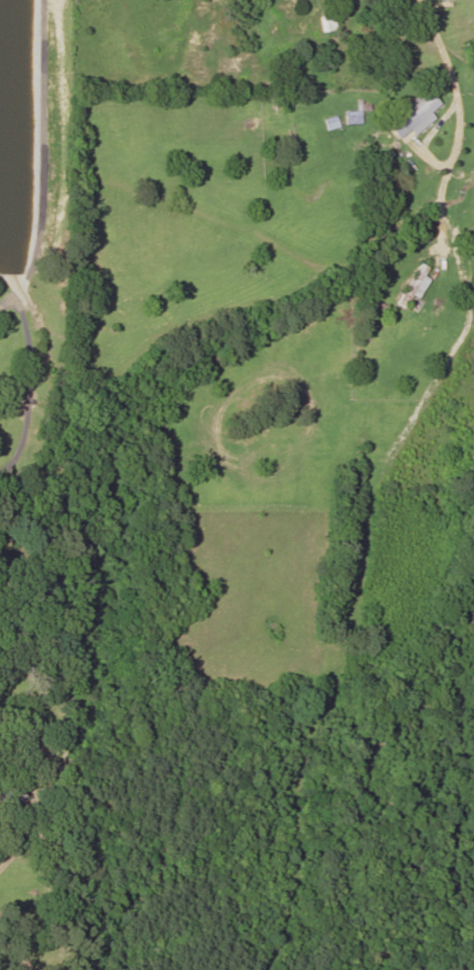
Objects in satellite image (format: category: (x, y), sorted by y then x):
building: (327, 21)
building: (472, 48)
building: (414, 114)
building: (352, 116)
road: (51, 186)
building: (414, 285)
building: (376, 304)
building: (12, 792)

